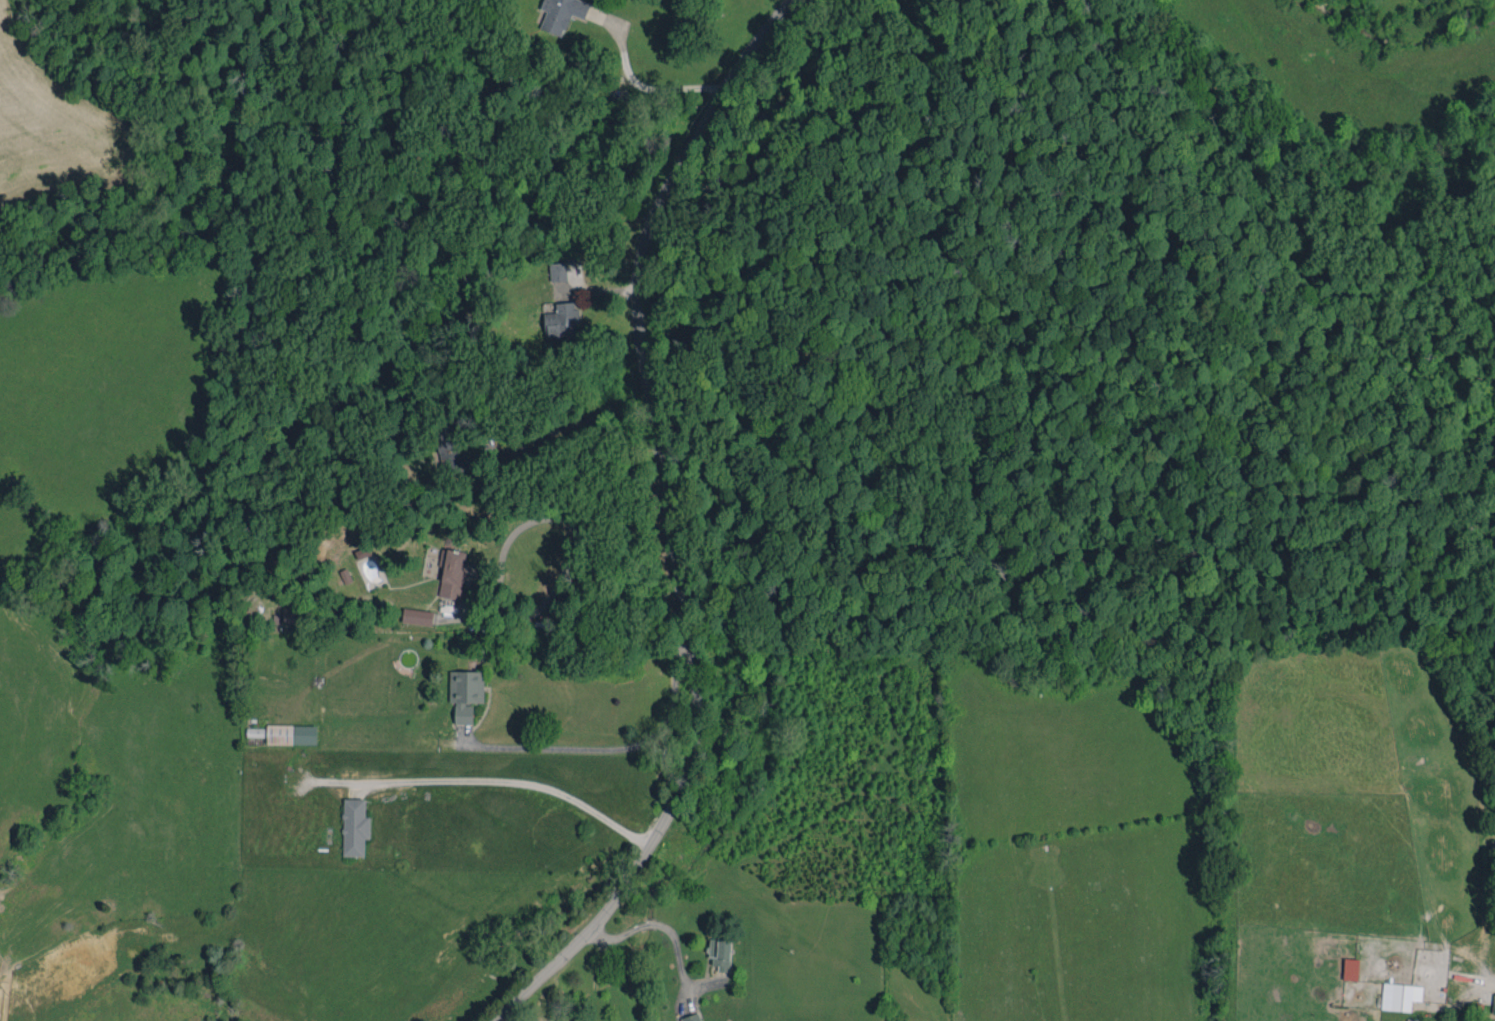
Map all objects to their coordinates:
building: (561, 14)
road: (648, 91)
building: (557, 271)
building: (564, 317)
road: (570, 421)
road: (654, 436)
building: (447, 444)
road: (498, 566)
building: (452, 572)
building: (292, 614)
building: (417, 616)
building: (465, 693)
building: (286, 733)
road: (621, 748)
road: (505, 783)
building: (354, 826)
road: (659, 925)
building: (720, 954)
road: (556, 957)
building: (1400, 996)
building: (1493, 1004)
building: (691, 1017)

